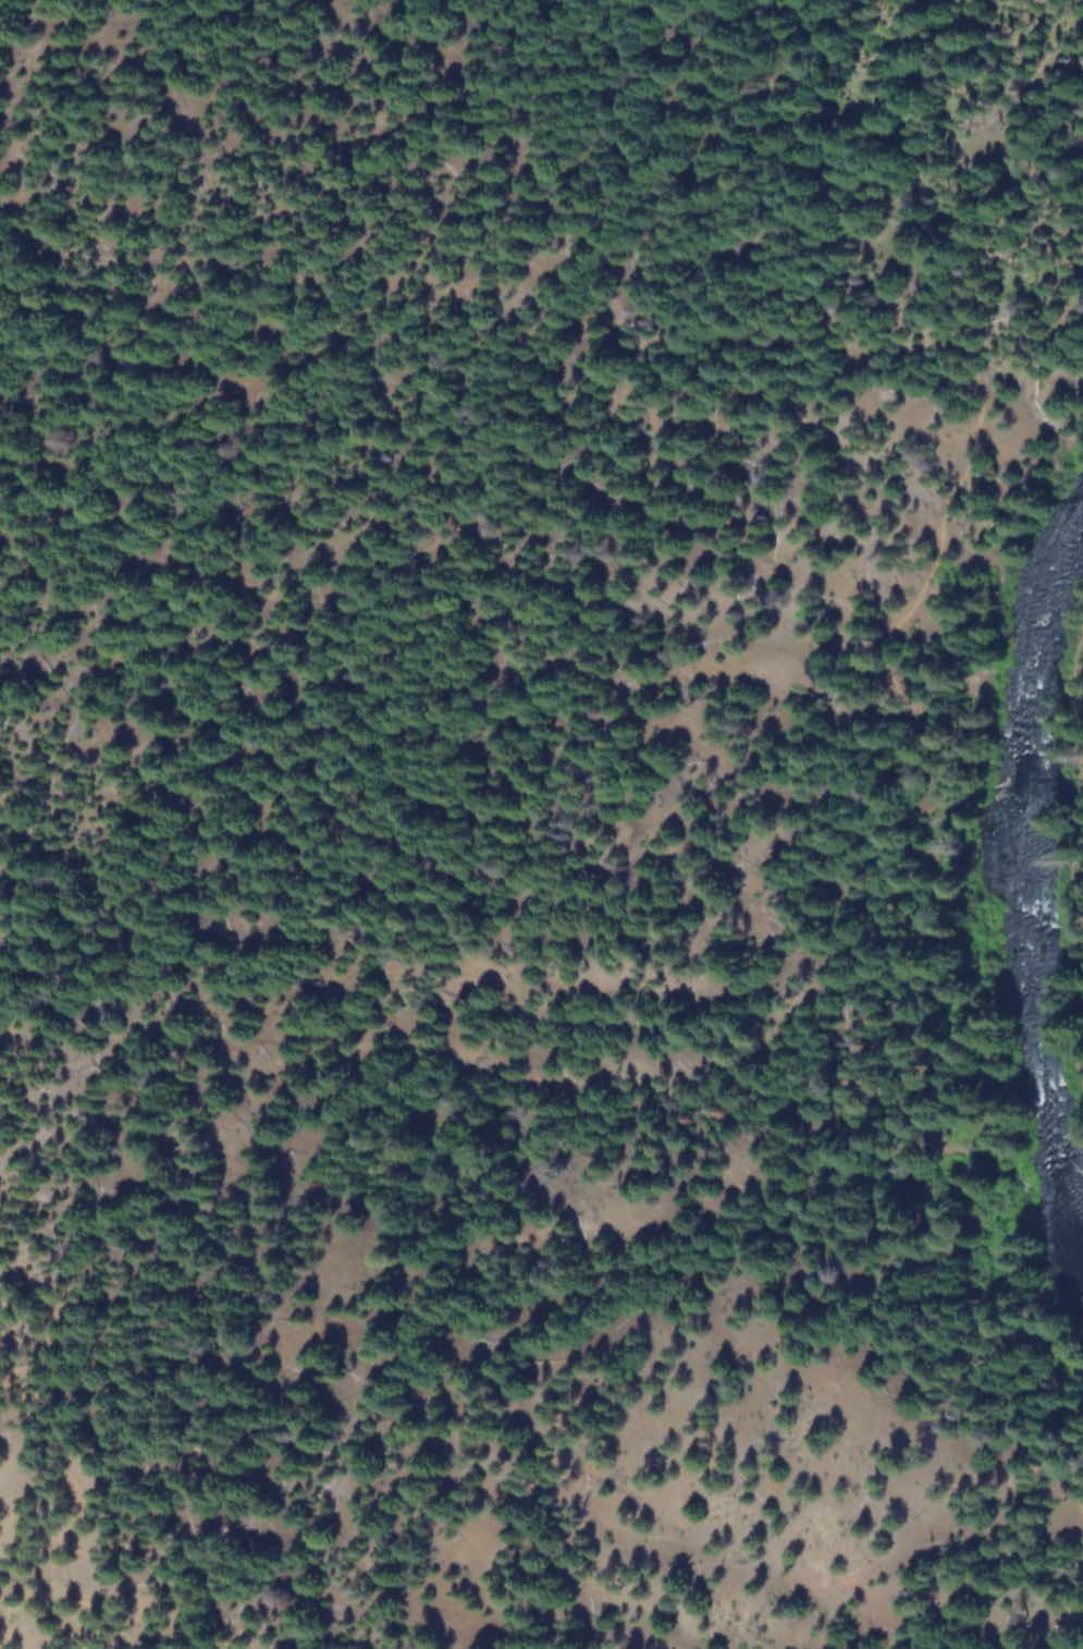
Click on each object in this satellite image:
road: (1074, 819)
river: (1024, 894)
road: (902, 965)

